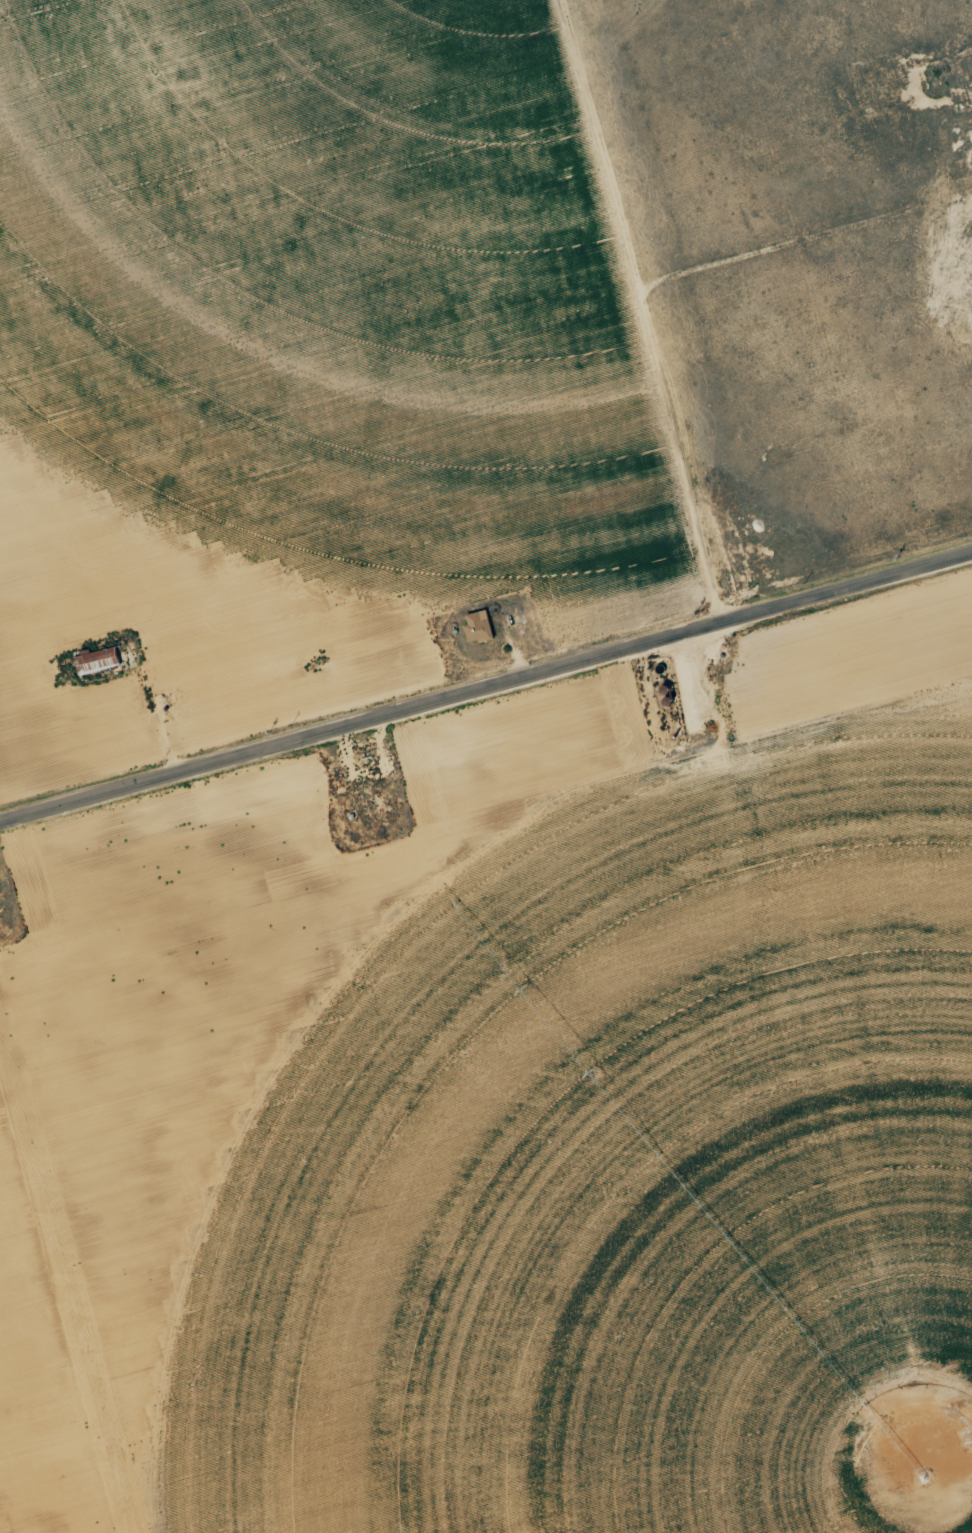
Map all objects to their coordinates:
road: (486, 690)

